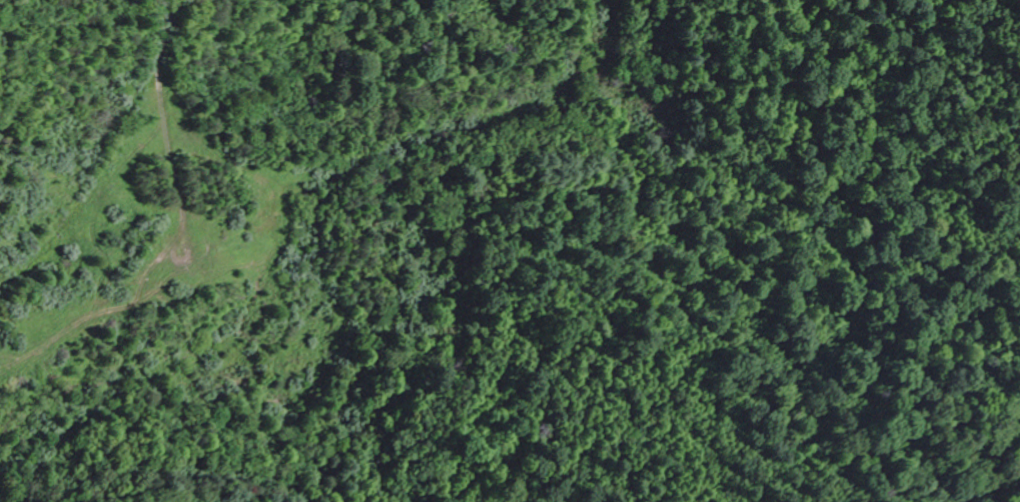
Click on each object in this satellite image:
road: (183, 232)

